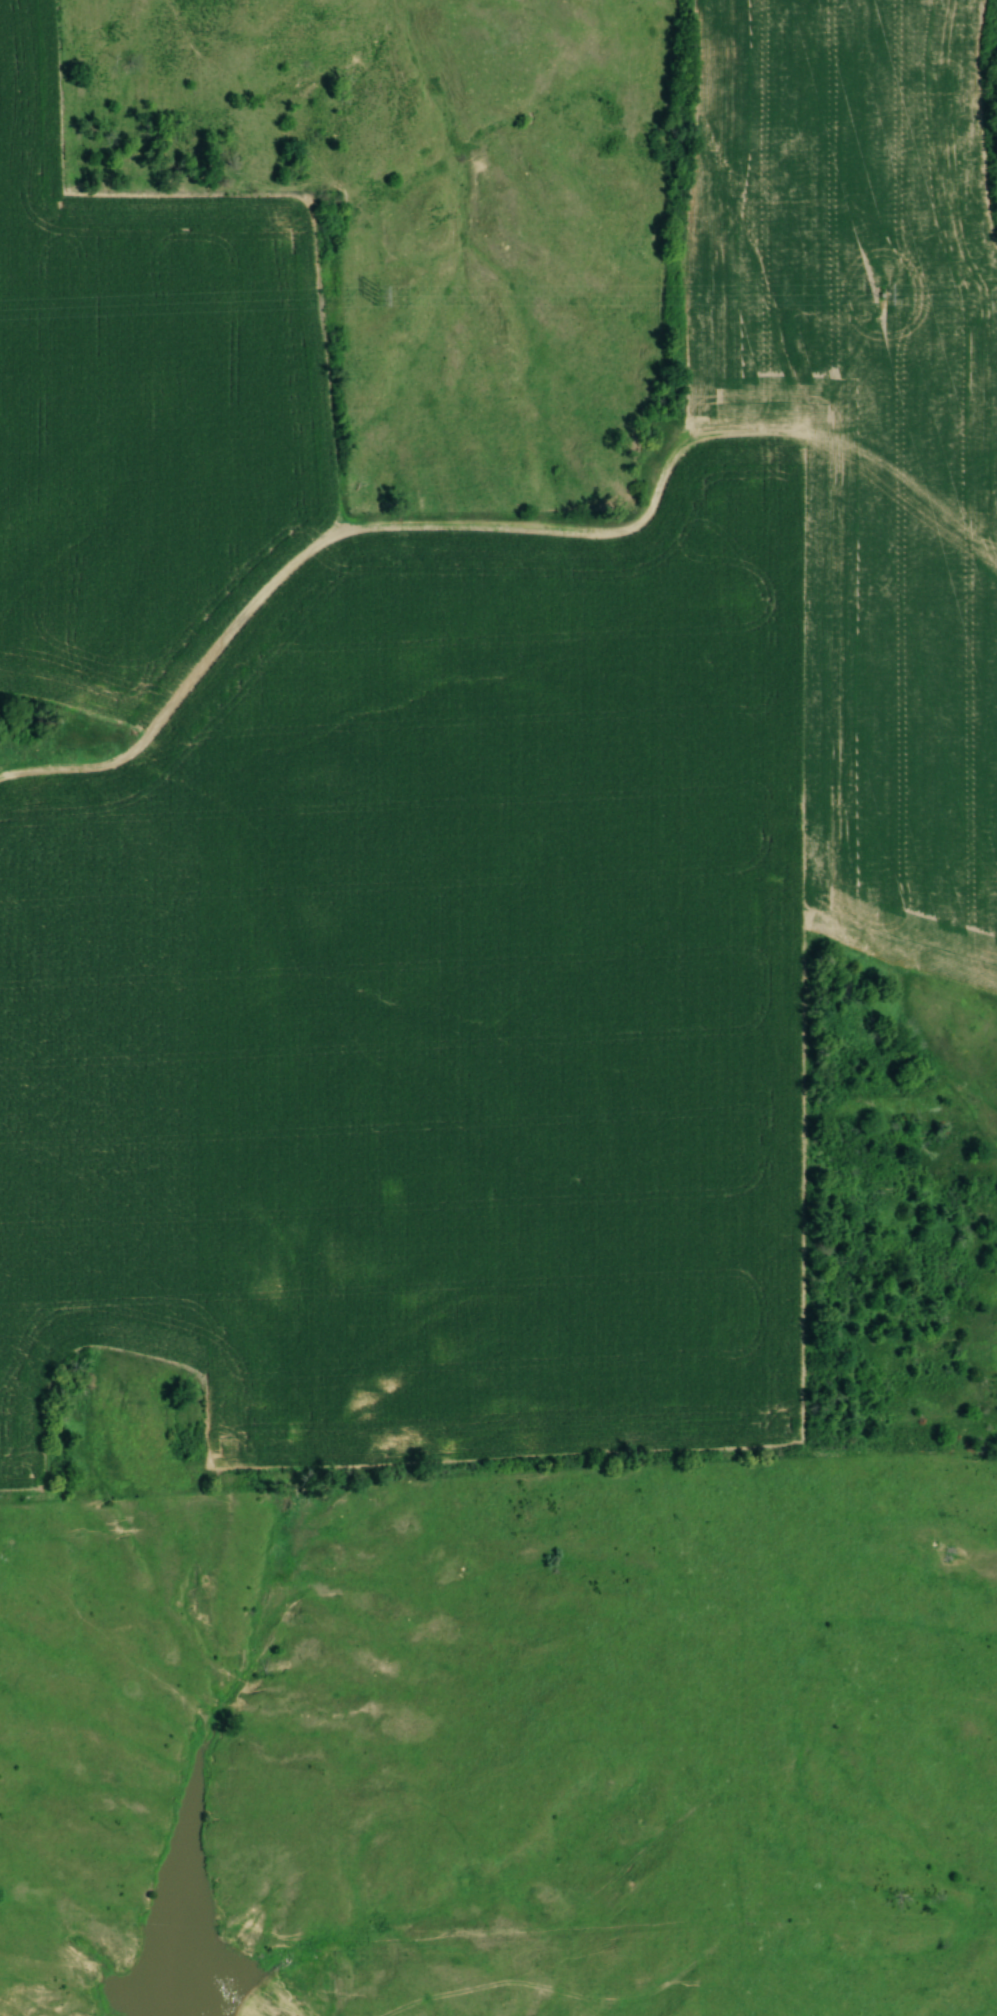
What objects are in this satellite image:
power tower: (881, 296)
power tower: (375, 297)

